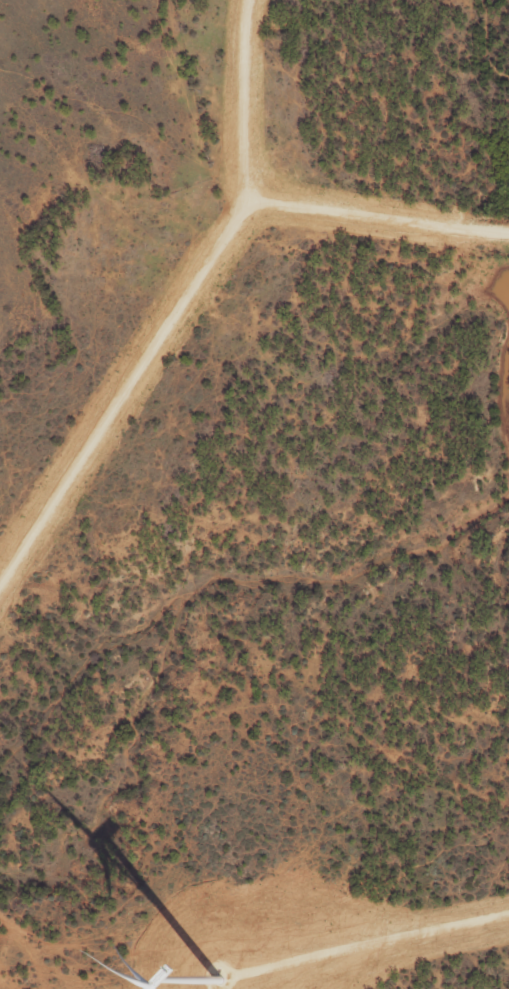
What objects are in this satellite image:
road: (278, 205)
road: (122, 389)
road: (374, 945)
wind turbine: (213, 979)

